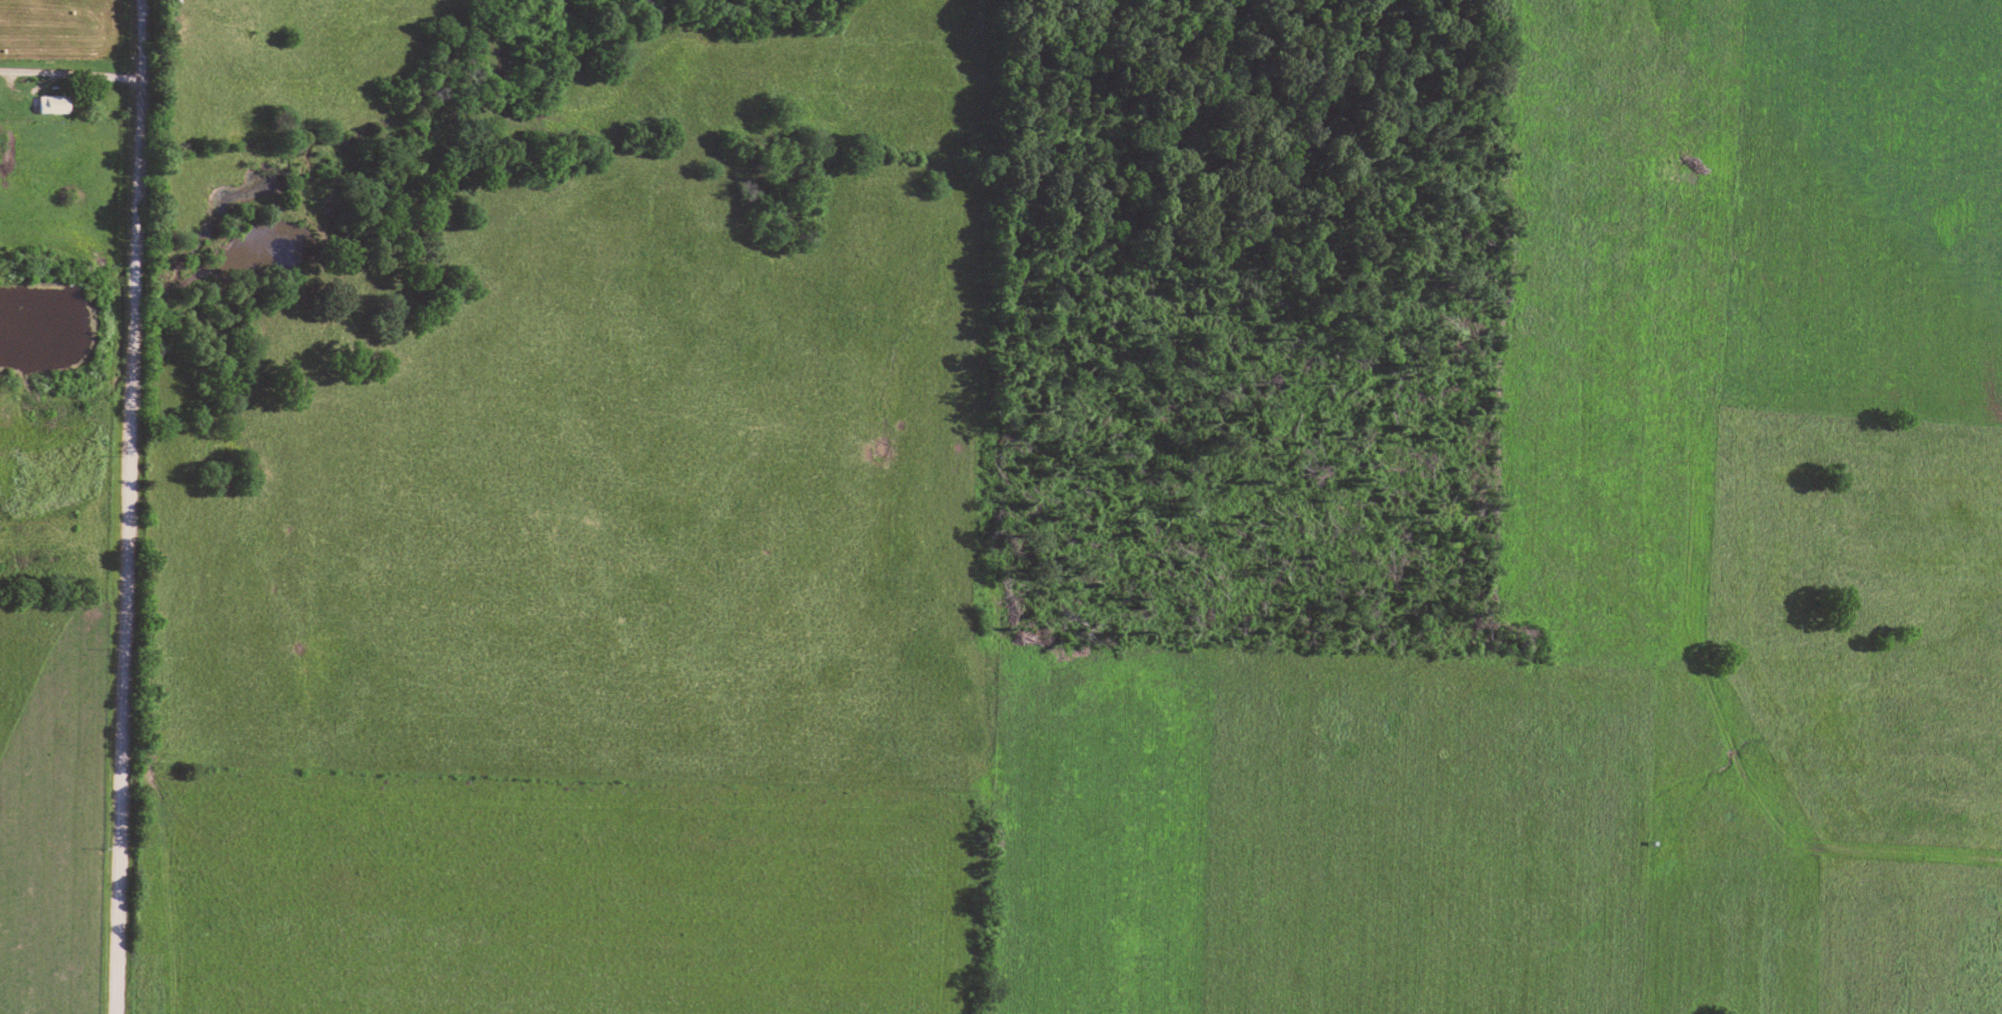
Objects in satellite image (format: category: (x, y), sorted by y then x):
road: (69, 73)
building: (53, 101)
road: (130, 507)

